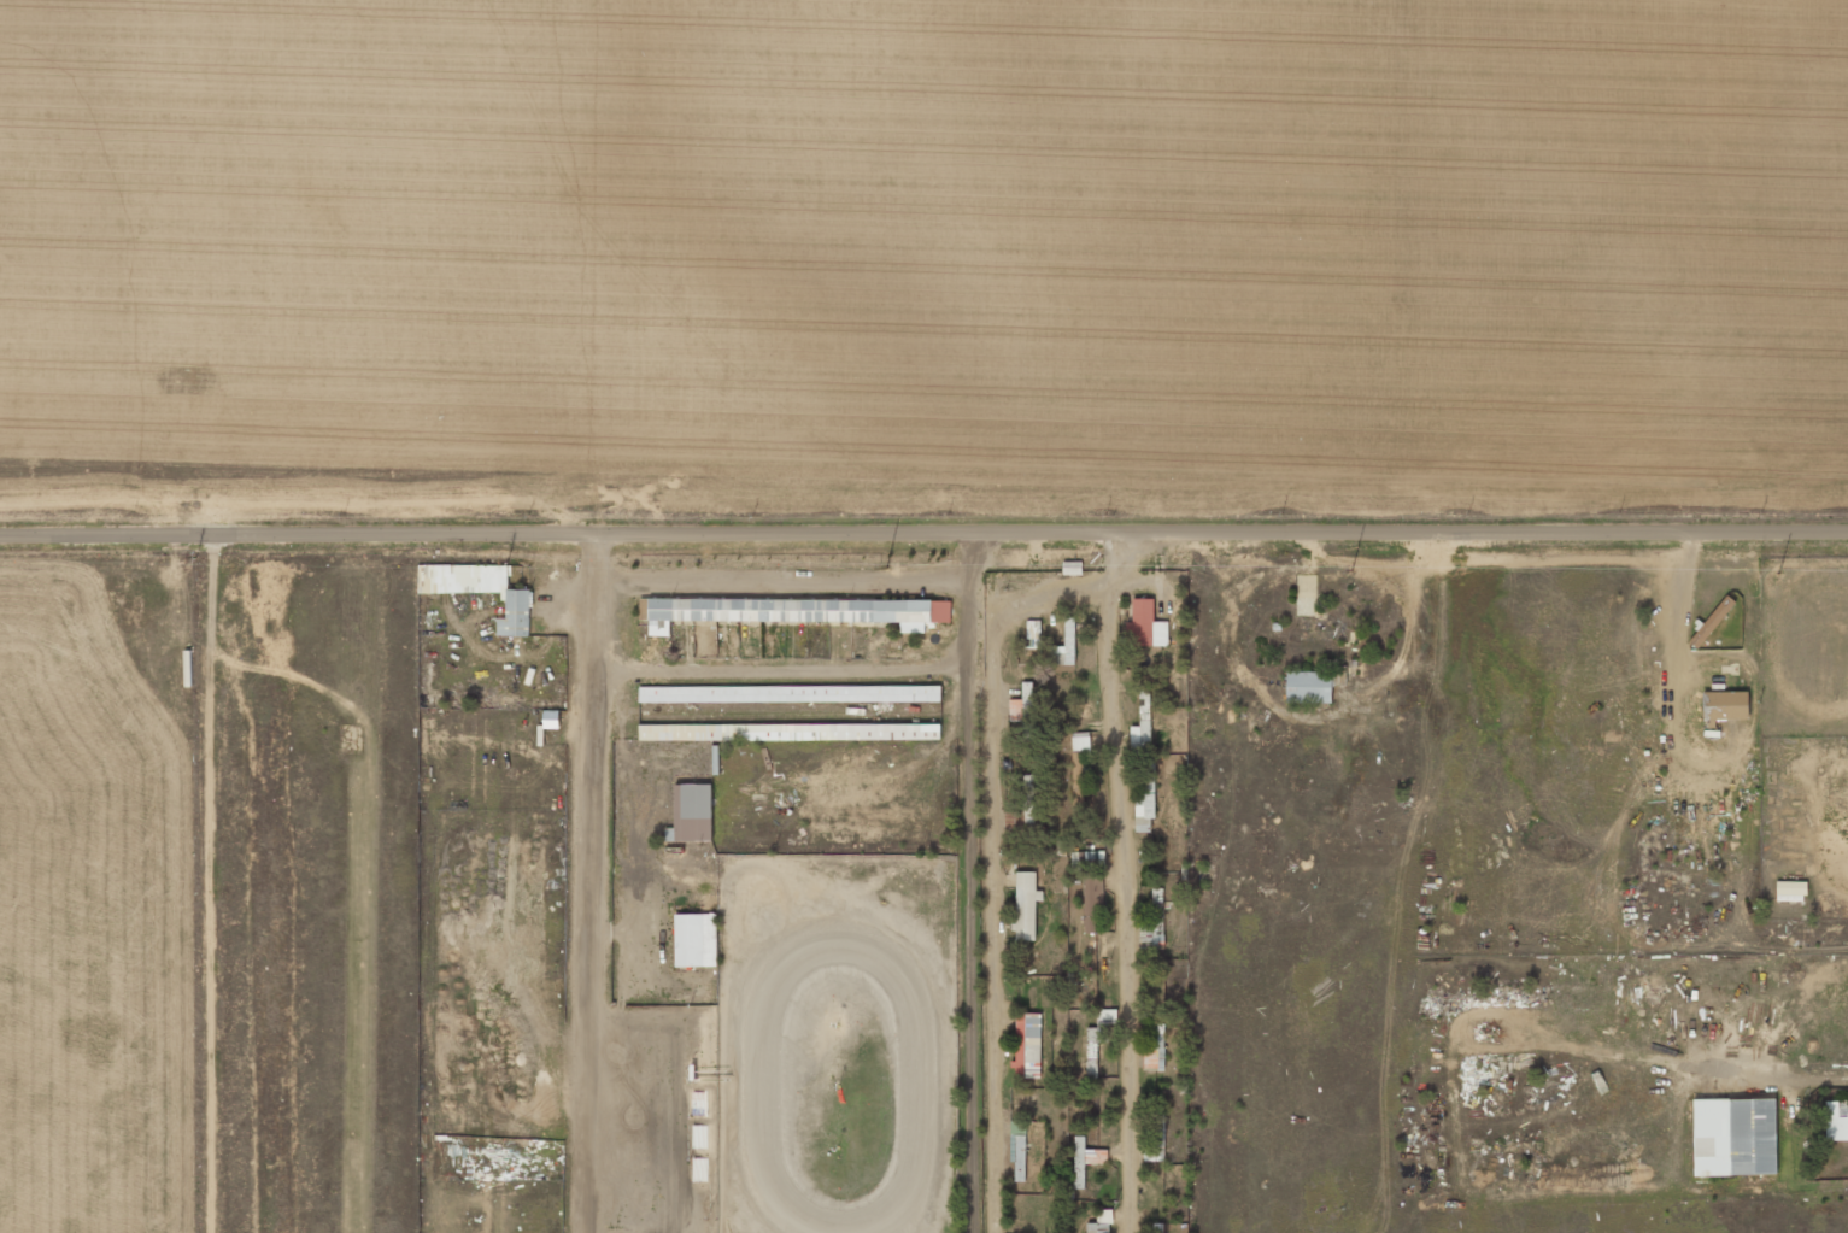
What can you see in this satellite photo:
road: (923, 529)
power tower: (187, 558)
power tower: (452, 563)
building: (1072, 568)
power tower: (894, 570)
power tower: (1345, 573)
power tower: (1773, 575)
building: (480, 591)
building: (792, 611)
building: (1713, 620)
building: (1146, 624)
building: (1033, 629)
building: (1064, 644)
building: (1309, 686)
building: (790, 693)
building: (1724, 706)
building: (1022, 709)
building: (788, 732)
building: (1140, 736)
building: (1080, 741)
building: (1078, 795)
building: (1145, 798)
building: (1022, 806)
building: (692, 812)
road: (990, 880)
road: (1126, 880)
building: (1790, 891)
building: (1092, 897)
building: (1026, 905)
building: (1152, 924)
building: (696, 939)
building: (1097, 1039)
building: (1027, 1045)
building: (1155, 1050)
building: (1836, 1121)
building: (699, 1137)
building: (1733, 1137)
building: (1017, 1149)
building: (1085, 1159)
building: (699, 1169)
building: (1099, 1222)

